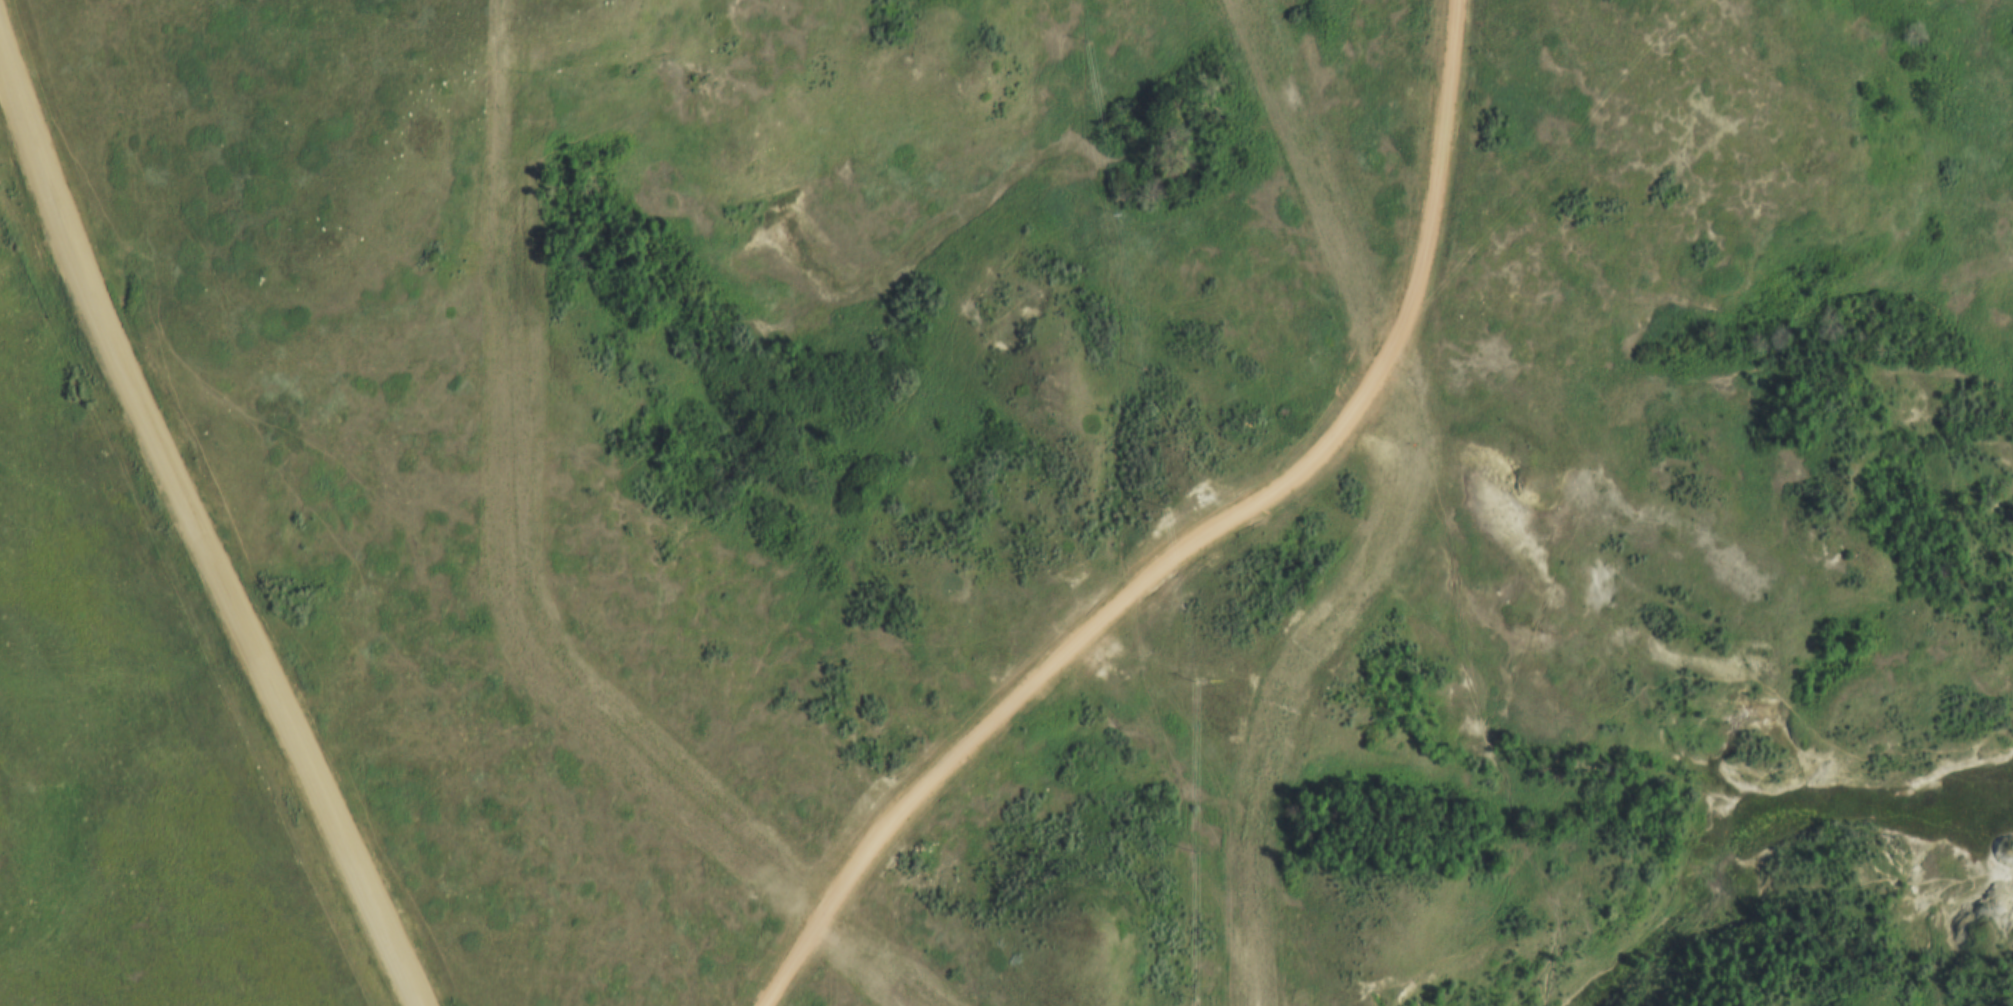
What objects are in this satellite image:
road: (5, 82)
road: (198, 532)
road: (1187, 538)

